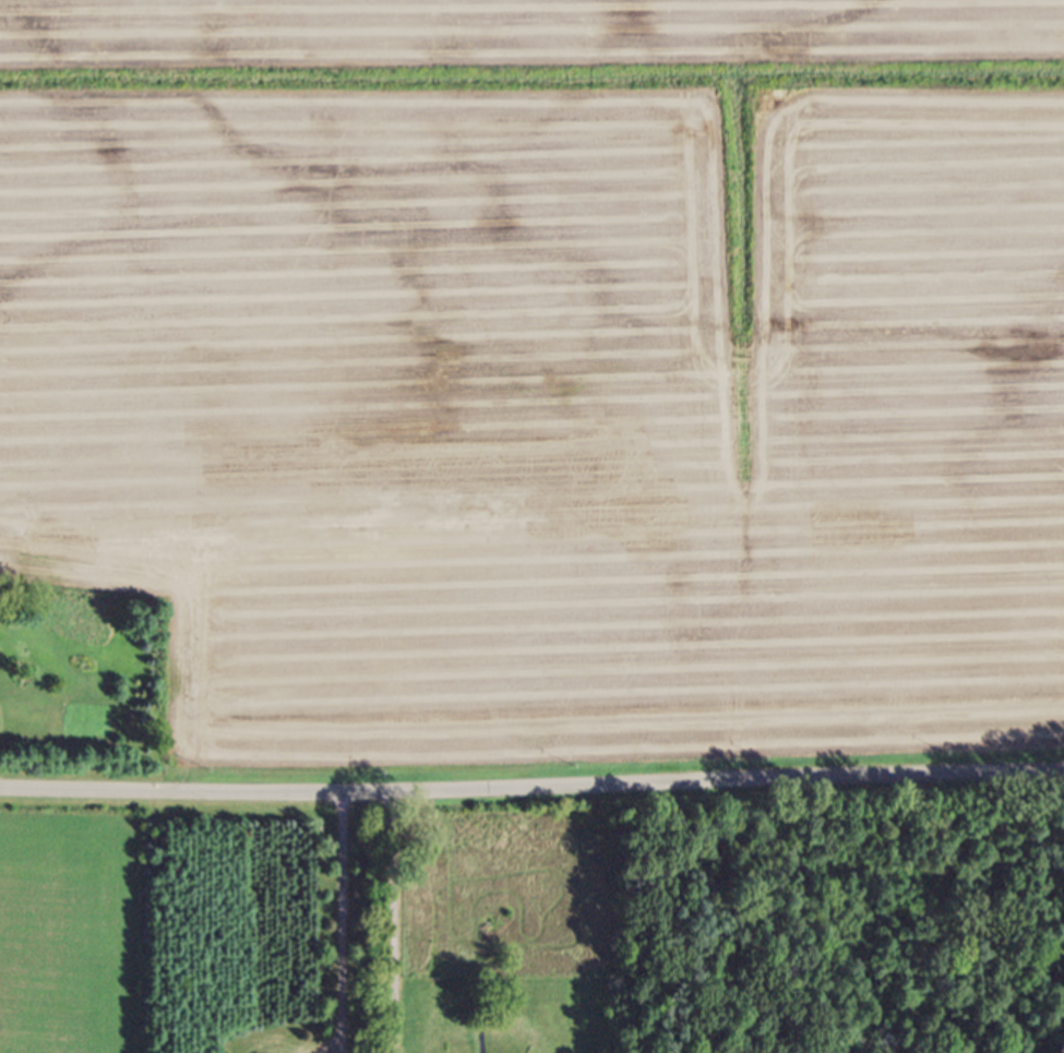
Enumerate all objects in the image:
road: (531, 787)
road: (395, 922)
road: (337, 925)

